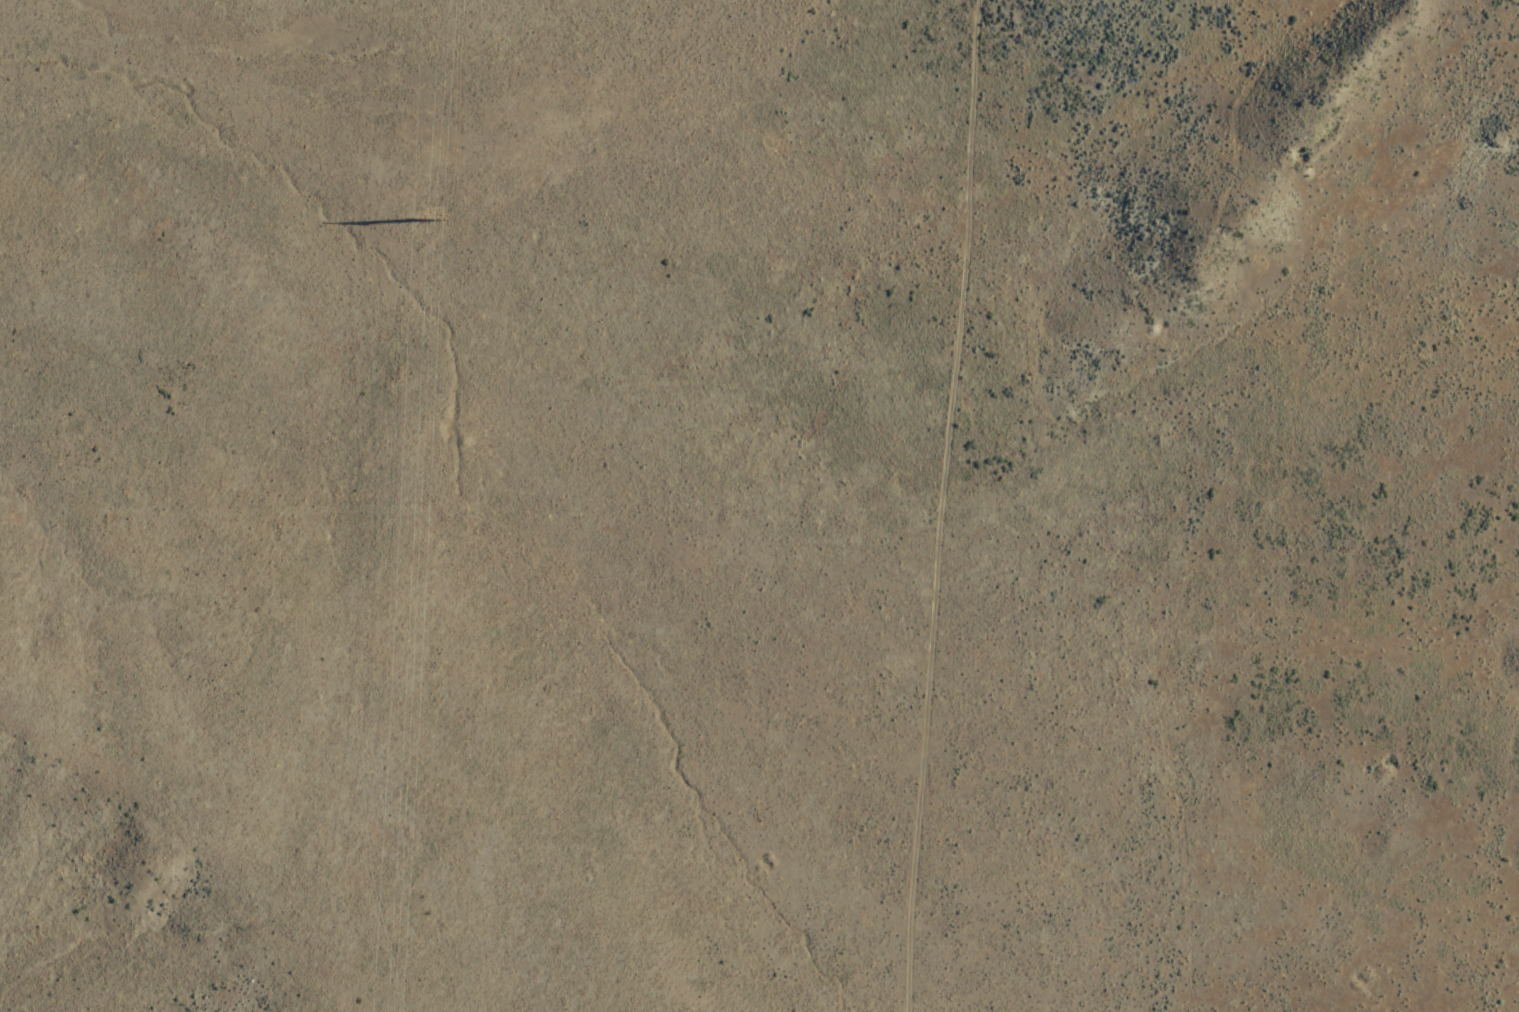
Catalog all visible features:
crop: (22, 53)
power tower: (427, 228)
road: (939, 505)

